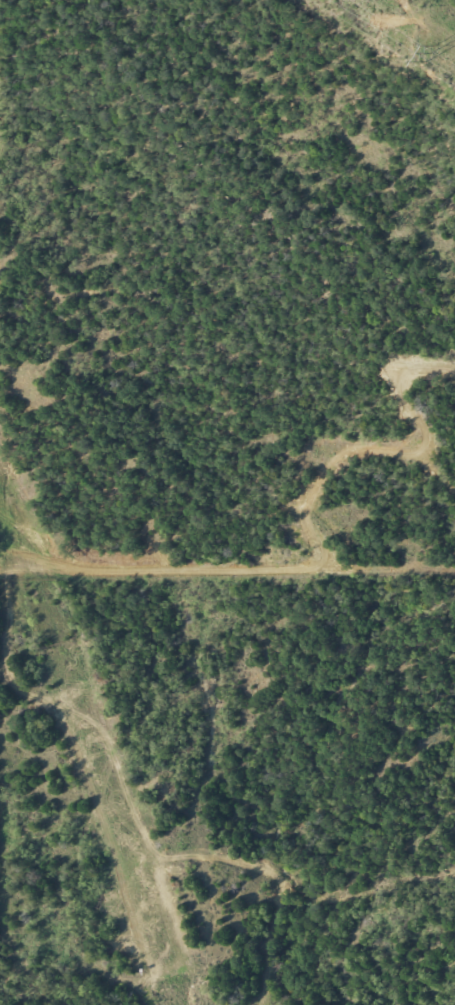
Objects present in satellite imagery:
road: (123, 773)

